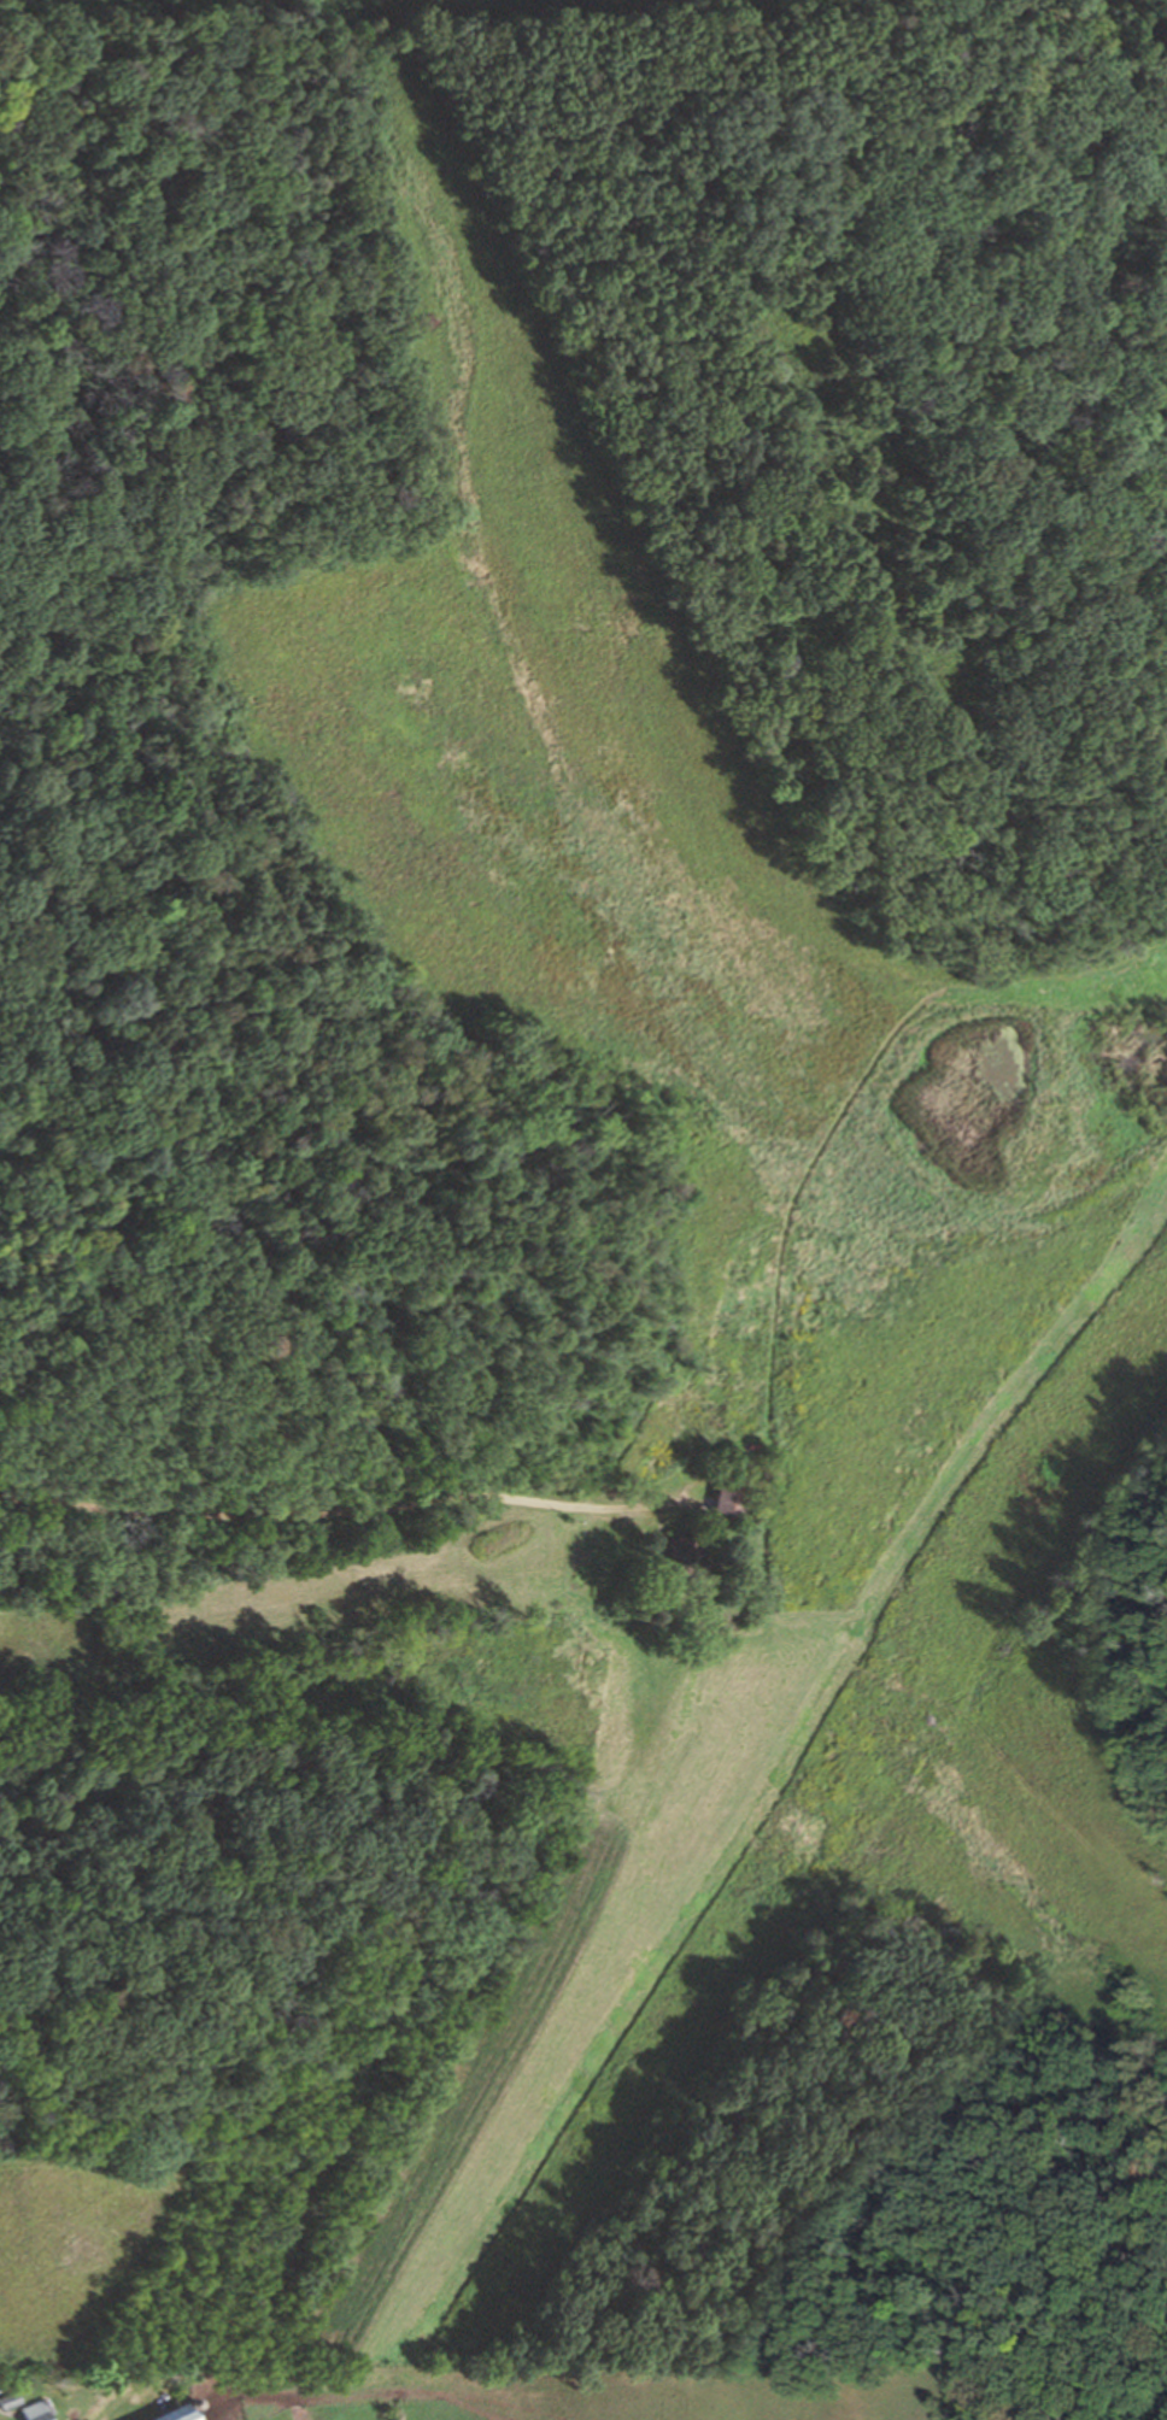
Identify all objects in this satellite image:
building: (731, 1488)
road: (348, 1511)
building: (686, 1555)
building: (11, 2398)
building: (39, 2409)
building: (169, 2413)

